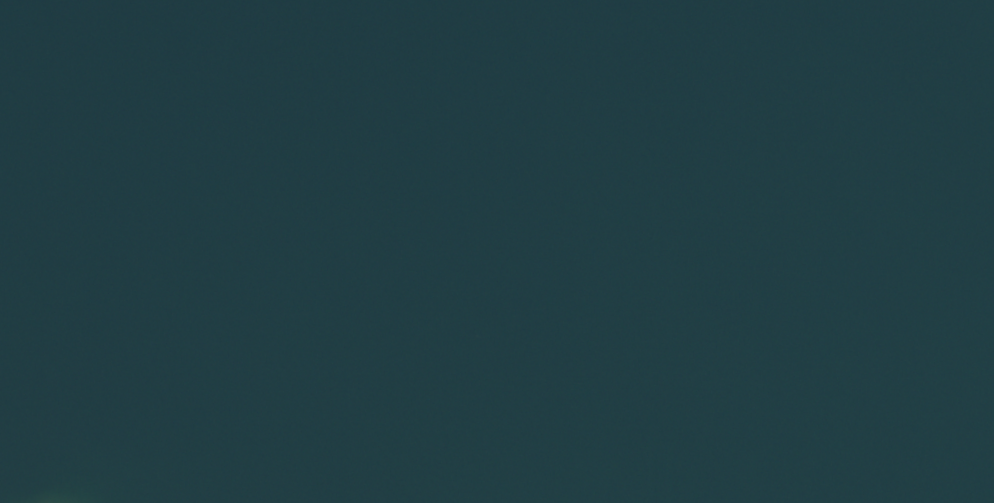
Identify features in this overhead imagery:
river: (970, 14)

